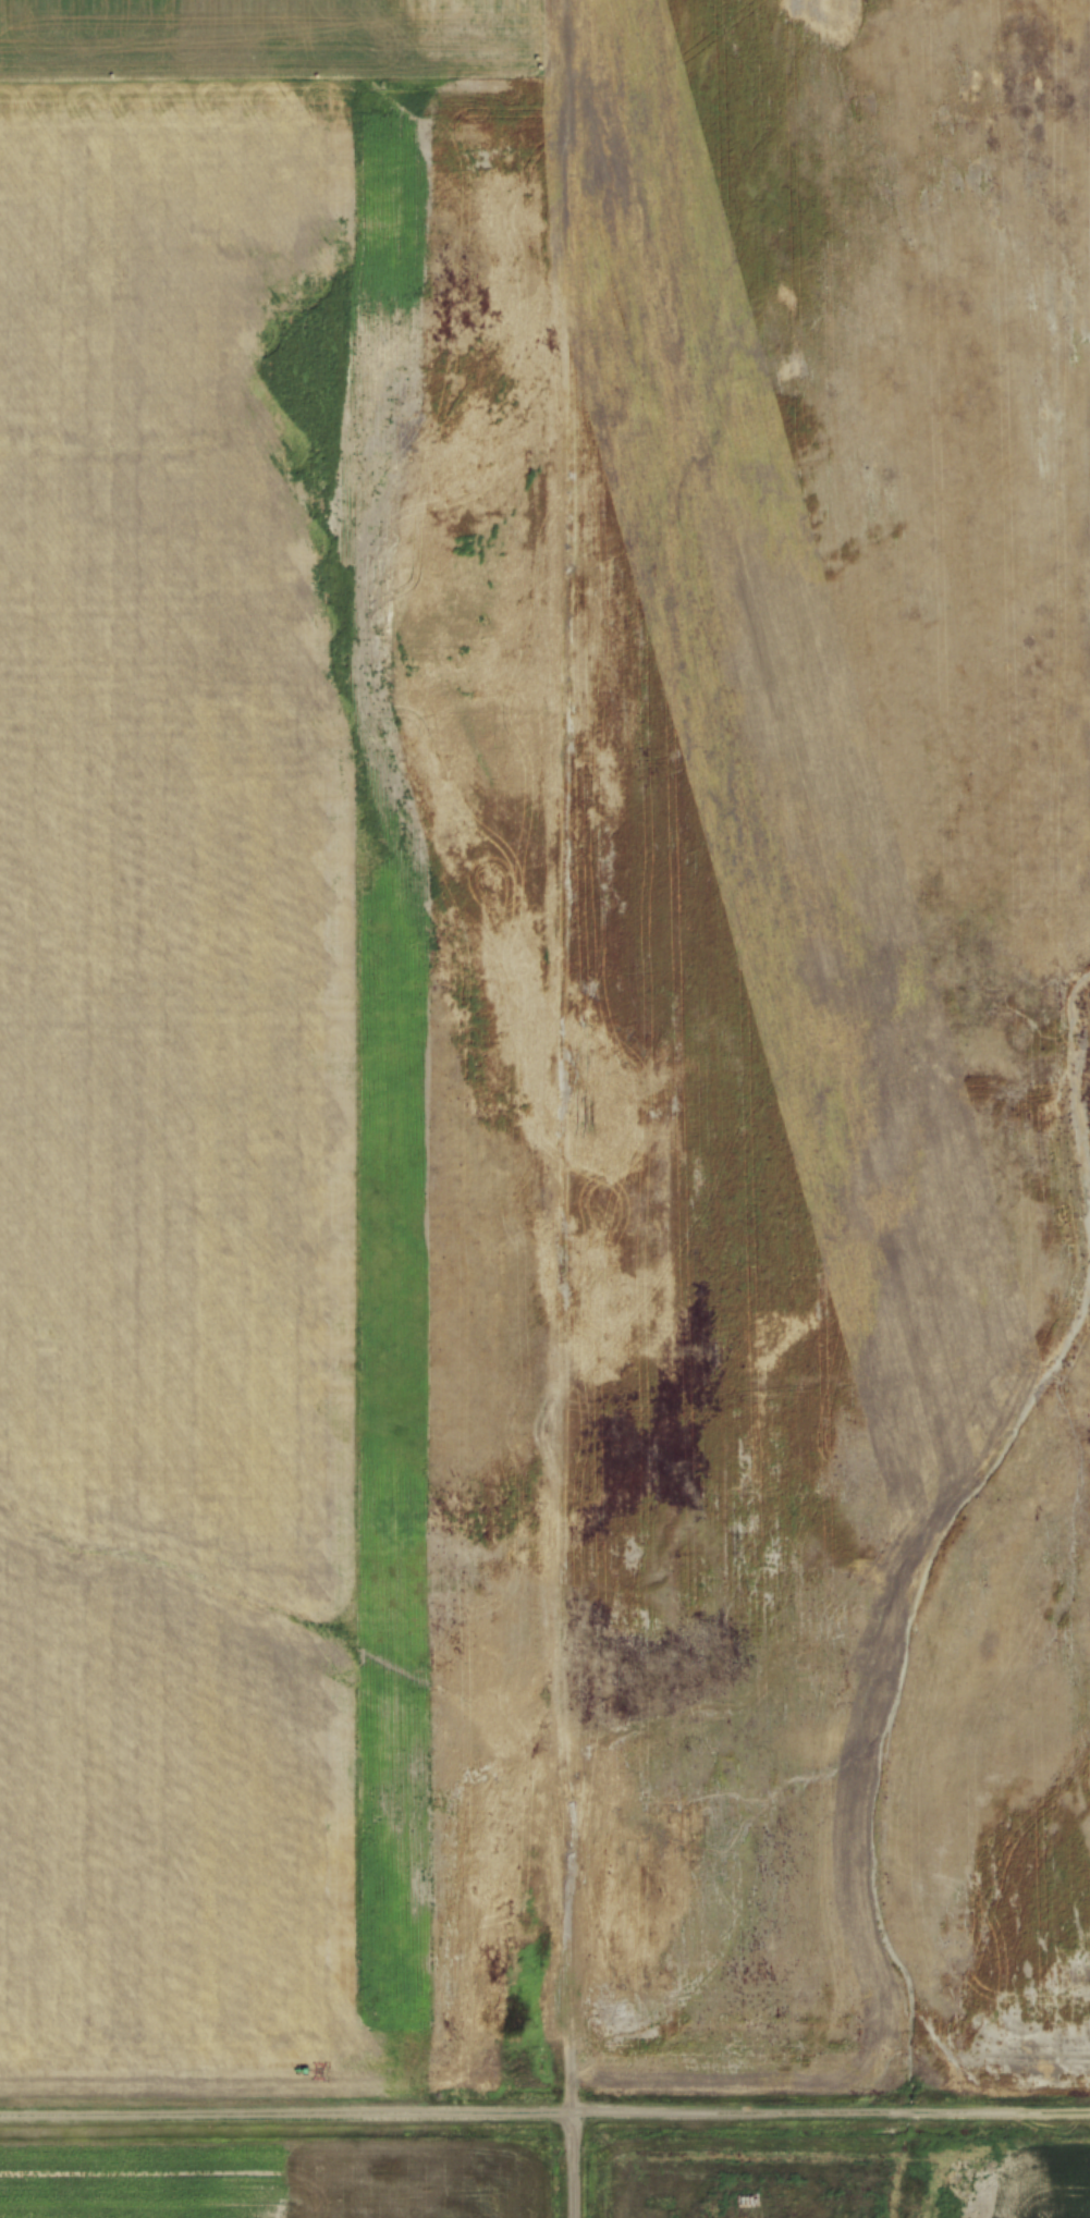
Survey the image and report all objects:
road: (544, 2112)
road: (572, 2165)

